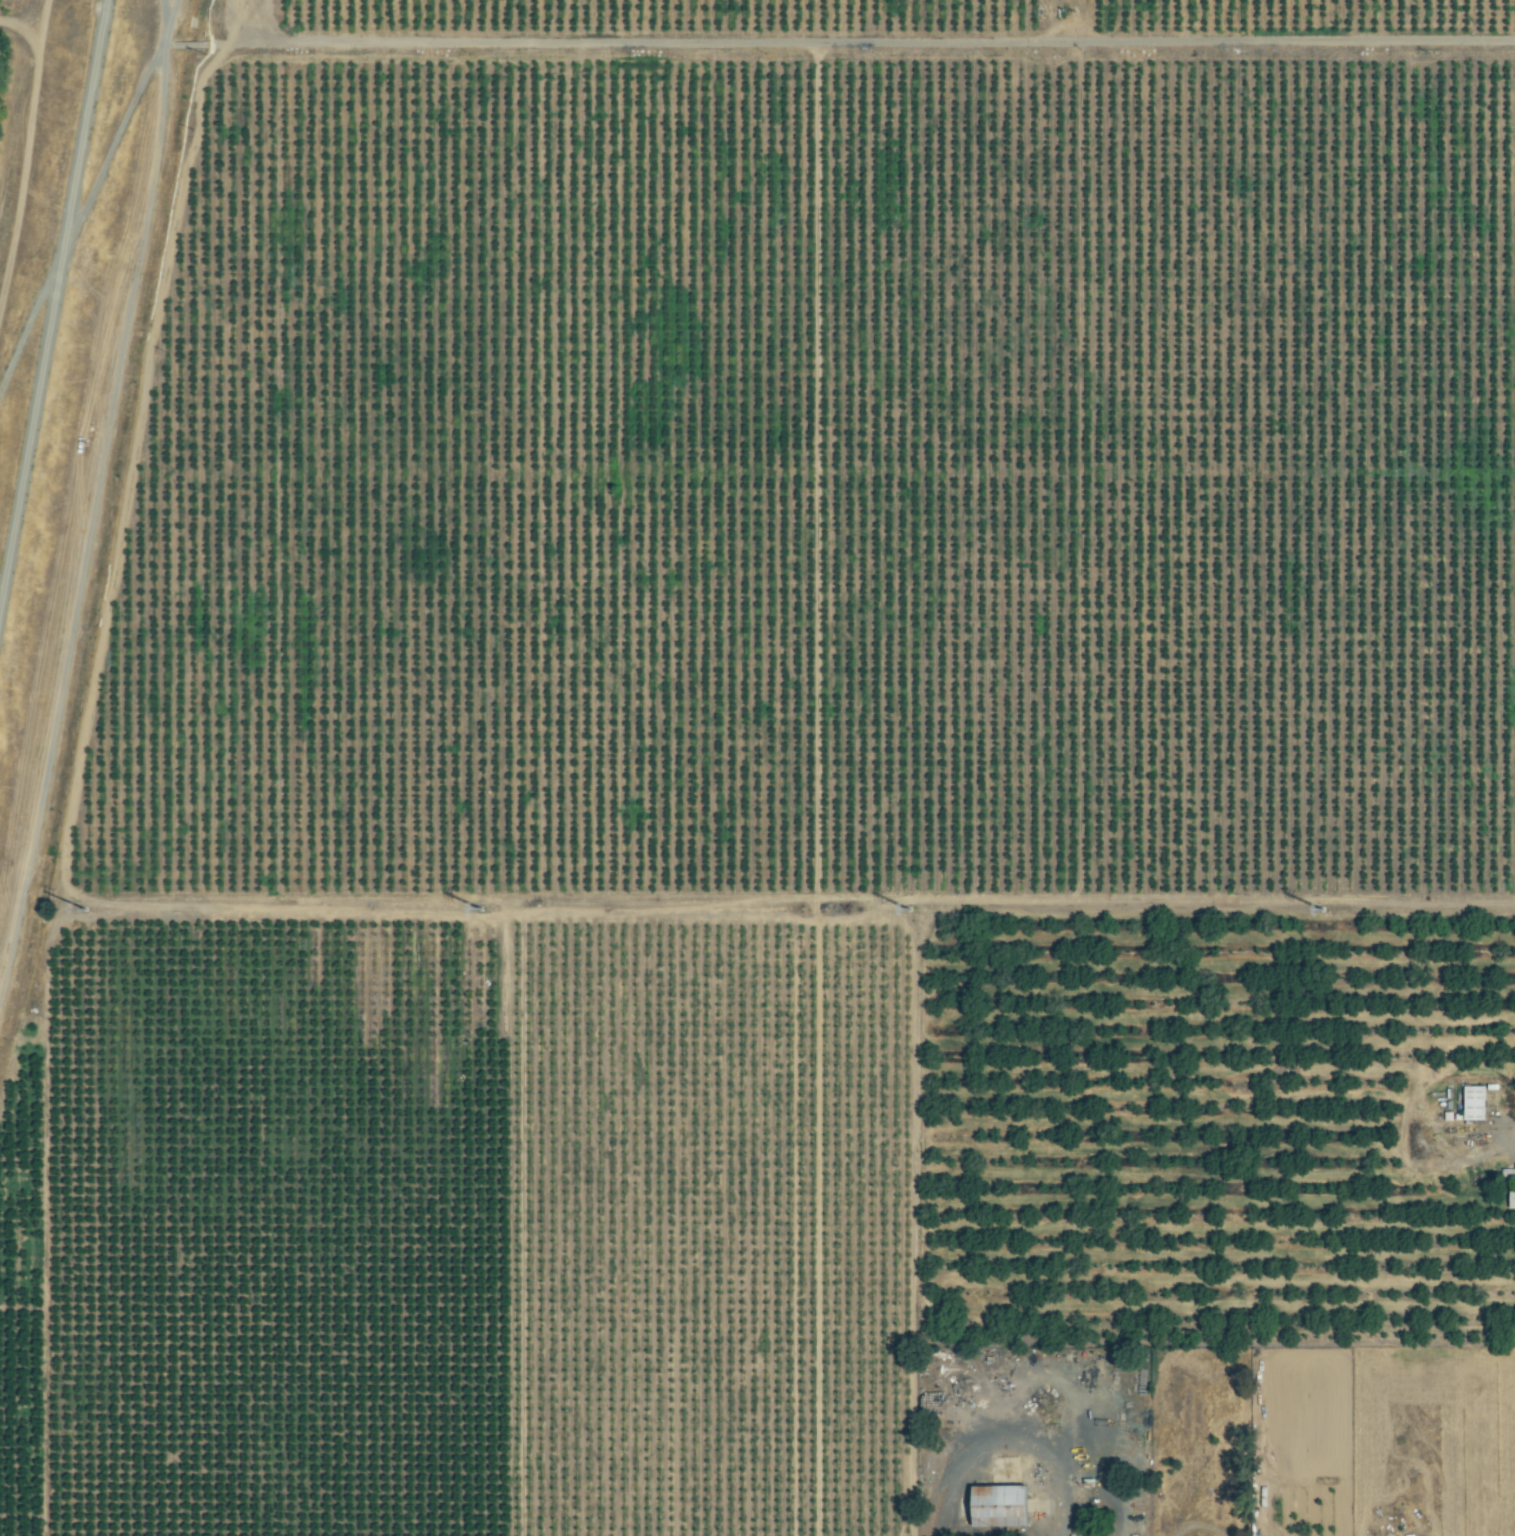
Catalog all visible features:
road: (948, 43)
power tower: (495, 910)
power tower: (919, 910)
power tower: (1332, 911)
building: (1475, 1103)
building: (1508, 1172)
building: (1512, 1199)
road: (1002, 1442)
building: (1003, 1505)

